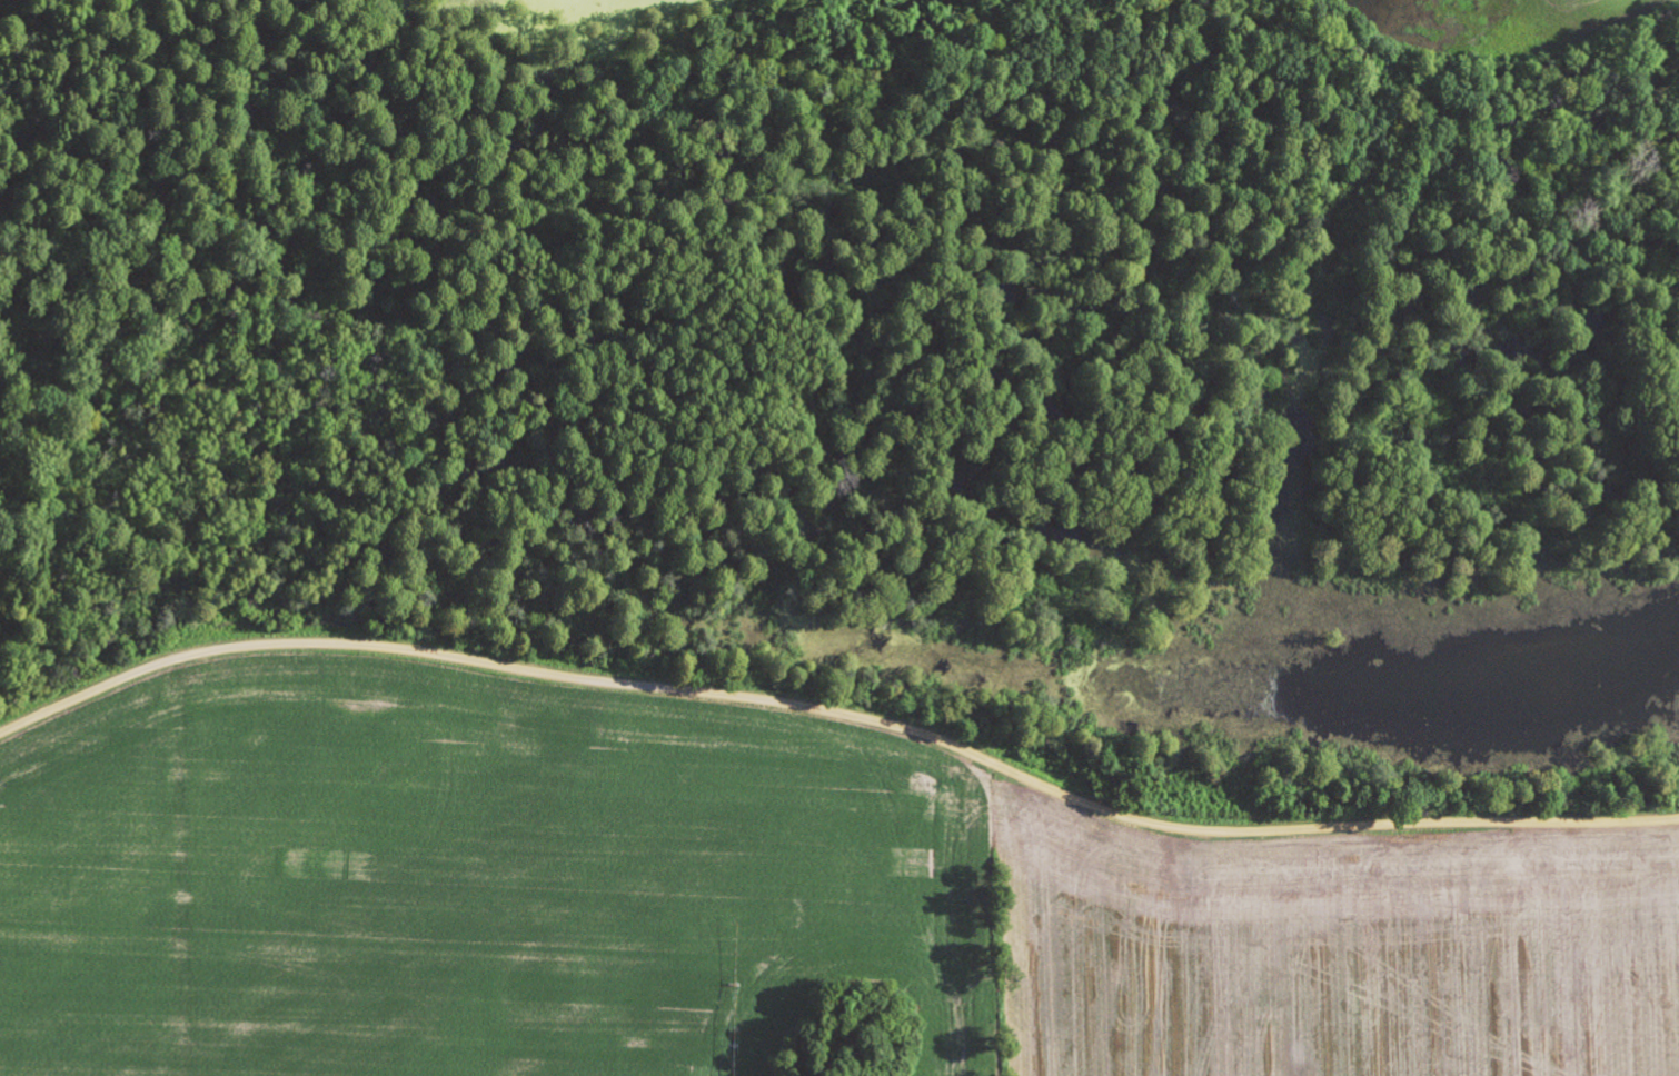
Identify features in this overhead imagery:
road: (838, 715)

